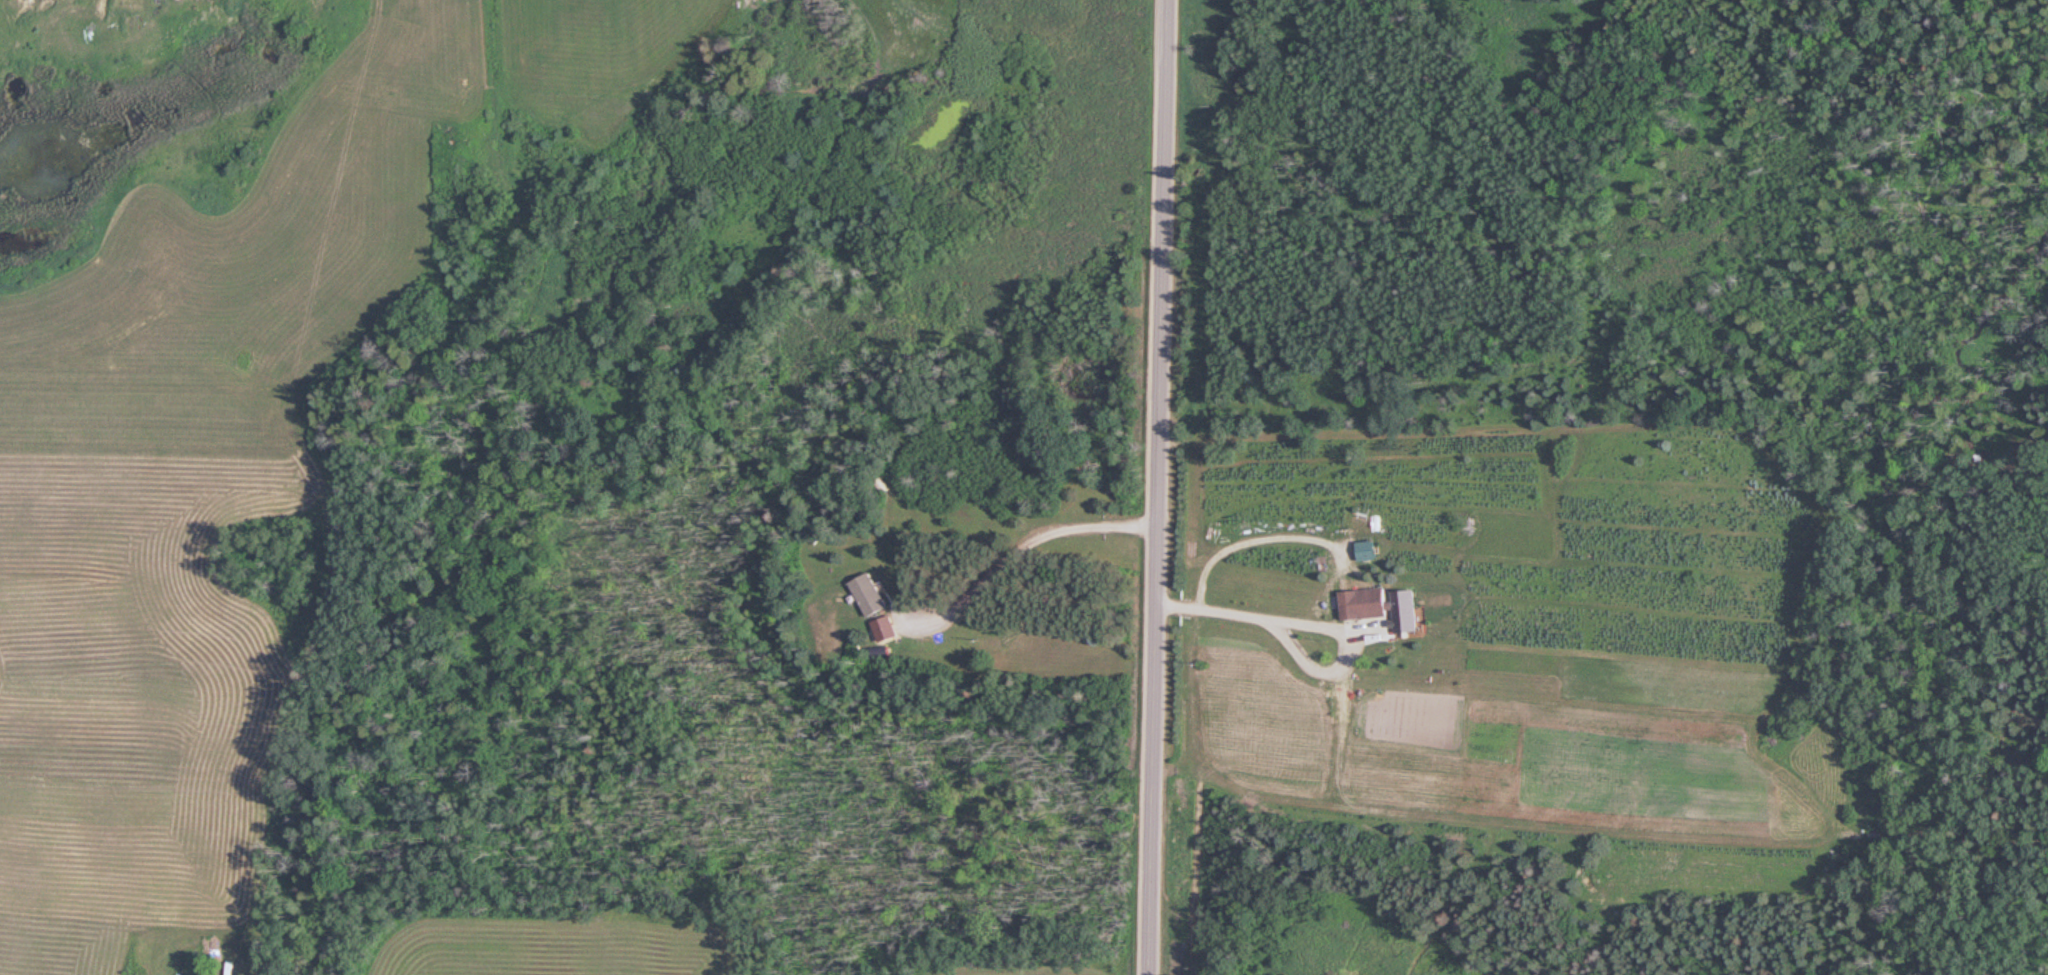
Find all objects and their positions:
road: (1159, 487)
building: (872, 596)
building: (1385, 606)
road: (847, 612)

